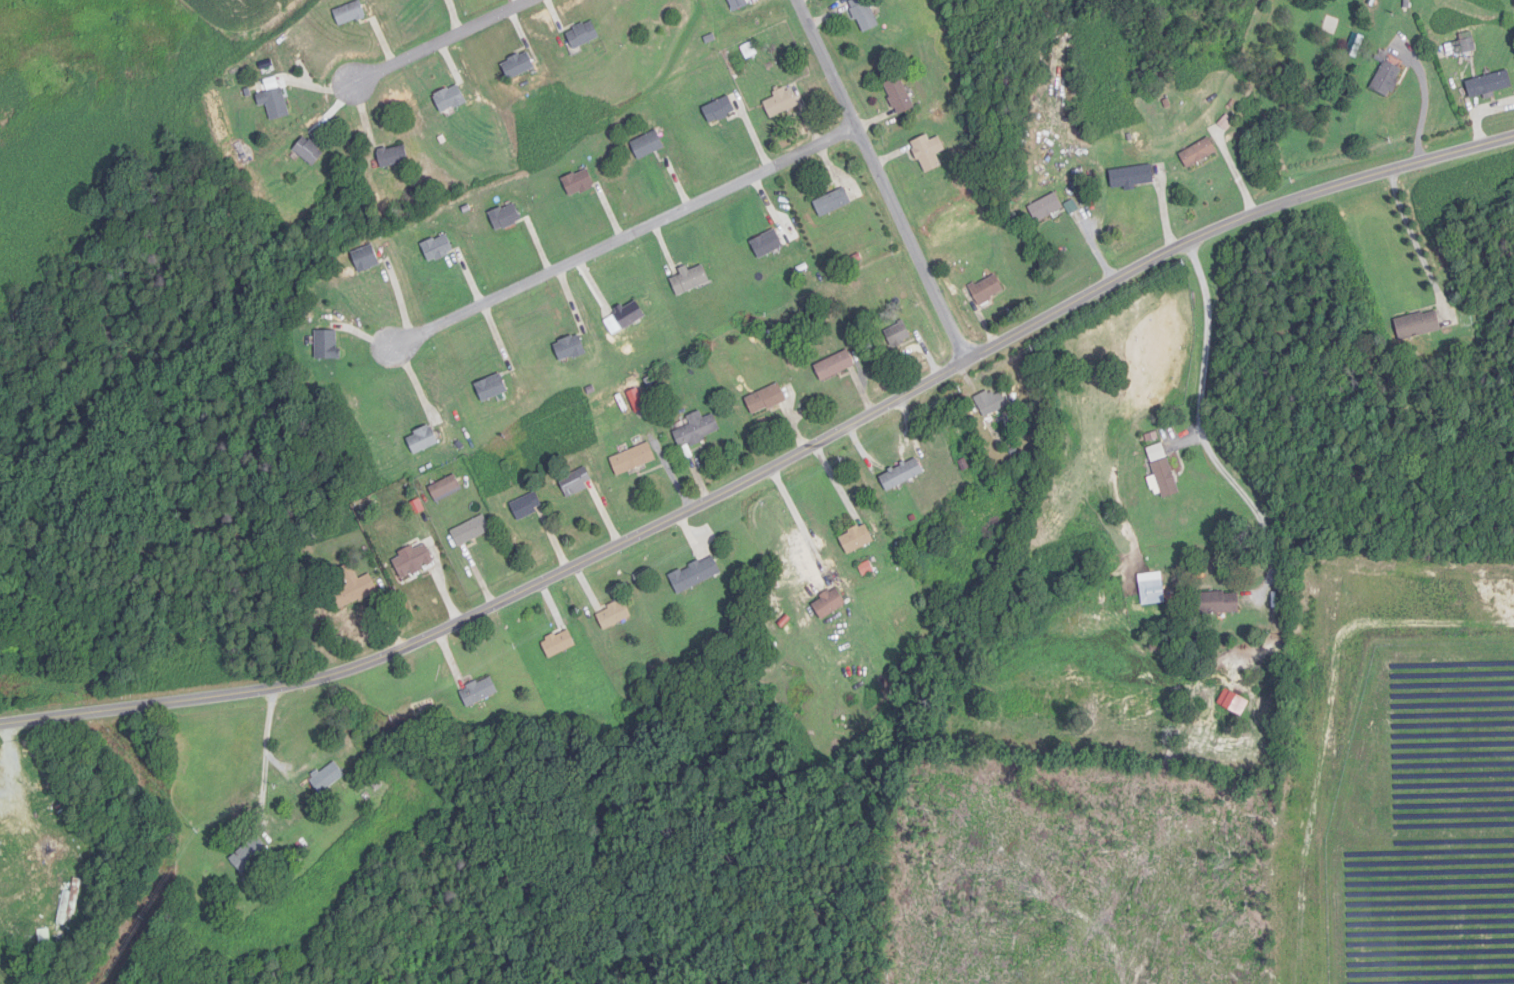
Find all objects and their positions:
building: (739, 4)
building: (350, 14)
building: (864, 15)
building: (583, 35)
building: (1463, 46)
road: (431, 49)
building: (518, 66)
building: (1387, 79)
building: (1489, 85)
building: (899, 96)
building: (450, 99)
building: (780, 103)
building: (275, 104)
building: (719, 111)
building: (647, 145)
building: (309, 151)
building: (929, 153)
building: (1198, 153)
building: (393, 156)
building: (1132, 177)
road: (884, 180)
building: (579, 183)
building: (833, 203)
building: (1046, 208)
building: (506, 218)
road: (1413, 237)
road: (614, 244)
building: (767, 244)
building: (438, 249)
building: (366, 258)
building: (690, 280)
building: (987, 290)
building: (630, 314)
building: (1418, 325)
building: (898, 335)
building: (327, 344)
building: (570, 347)
building: (835, 366)
building: (492, 387)
building: (766, 400)
building: (991, 403)
road: (1202, 428)
building: (698, 429)
building: (423, 440)
building: (633, 459)
road: (769, 470)
building: (1163, 473)
building: (902, 474)
building: (577, 482)
building: (446, 489)
building: (527, 506)
road: (796, 515)
building: (471, 531)
building: (857, 539)
building: (414, 561)
building: (695, 574)
building: (356, 587)
building: (1153, 592)
building: (1217, 602)
building: (829, 604)
building: (614, 615)
building: (559, 643)
building: (479, 692)
building: (1234, 702)
building: (328, 778)
building: (250, 855)

